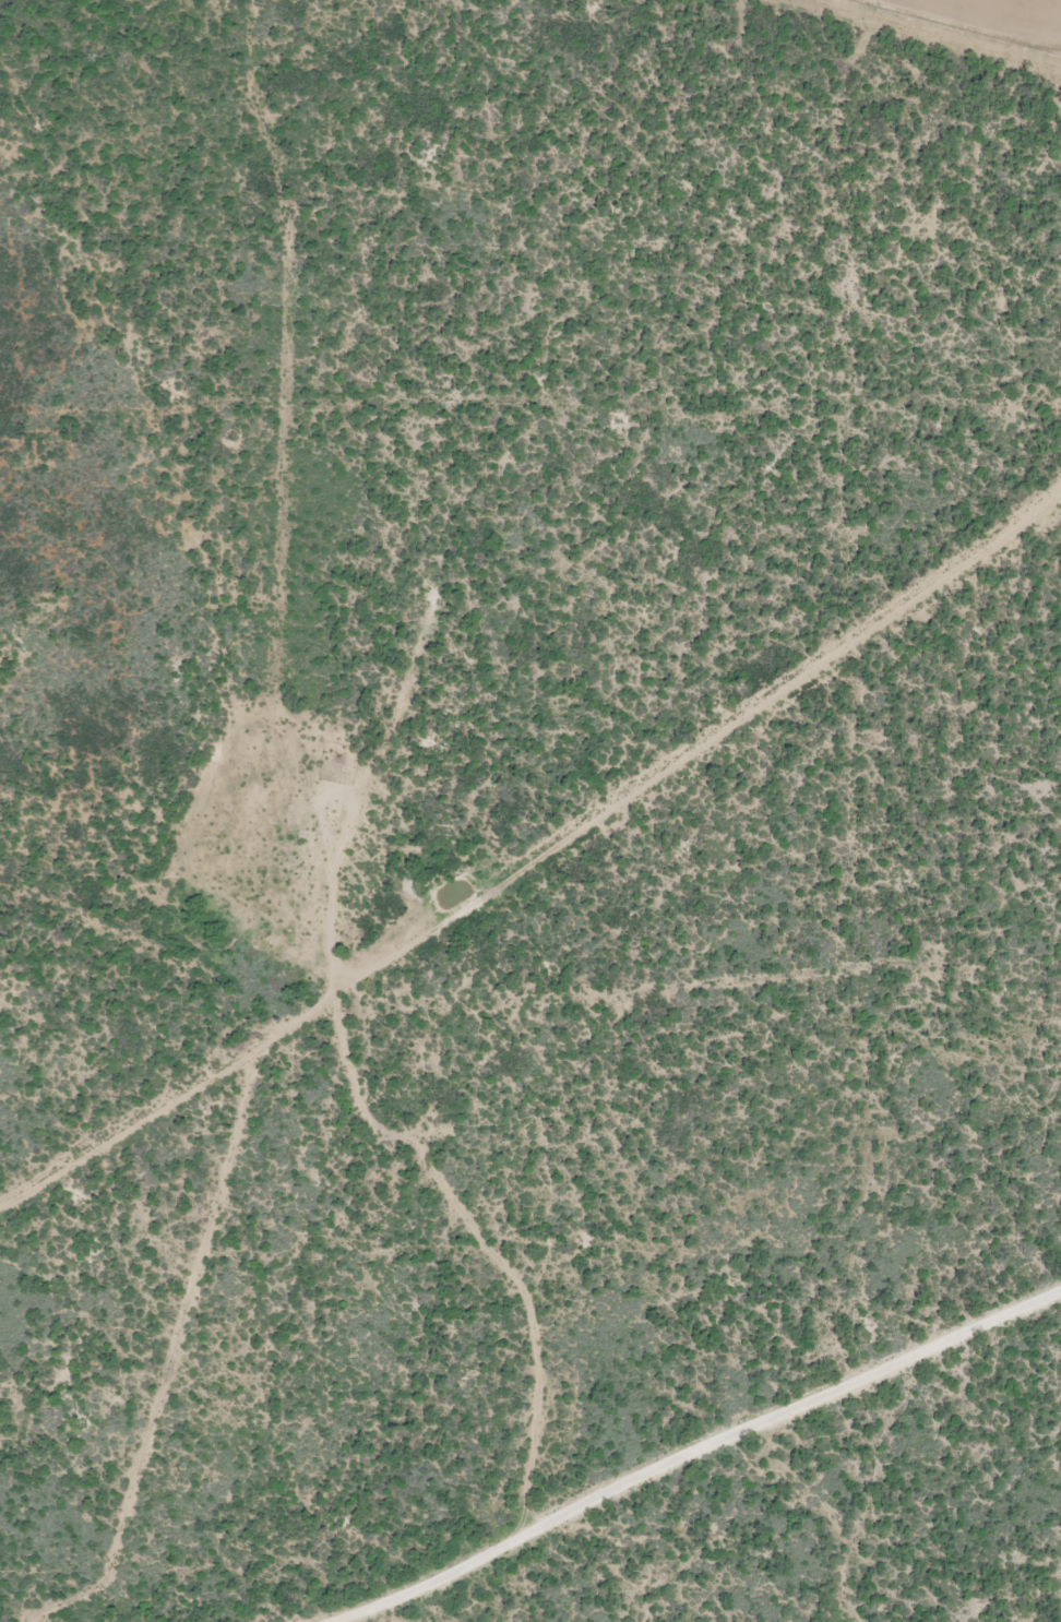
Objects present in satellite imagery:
road: (534, 863)
road: (675, 1448)

